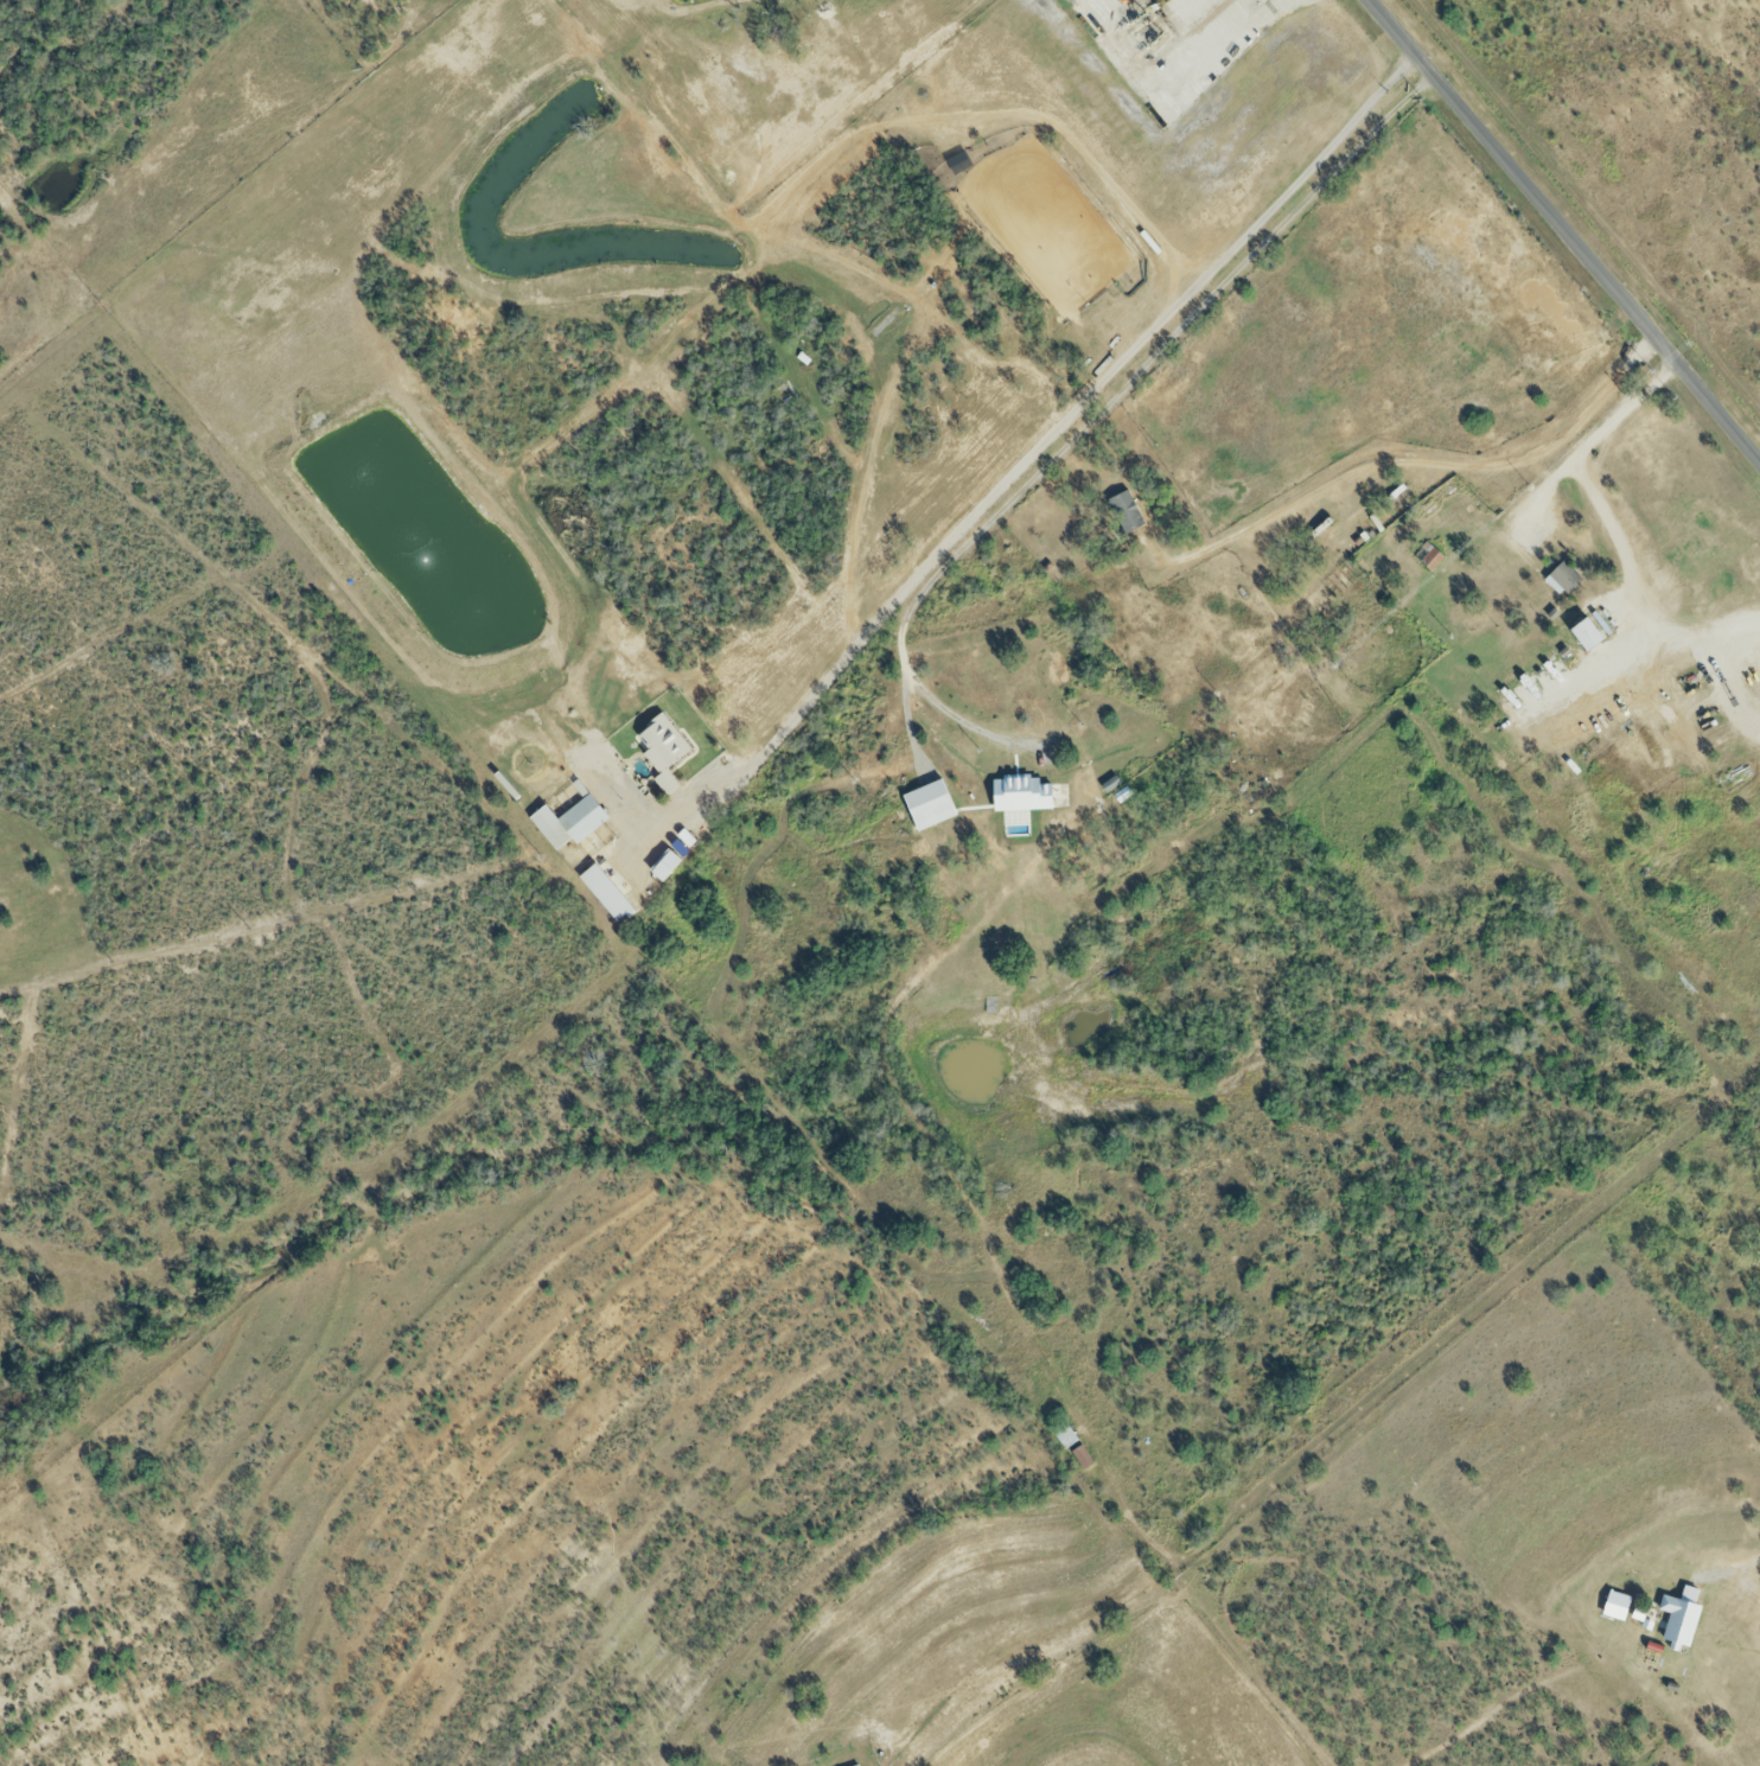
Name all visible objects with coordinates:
road: (1245, 27)
road: (1564, 225)
road: (1102, 412)
road: (1064, 429)
building: (1125, 514)
road: (1611, 528)
building: (1429, 560)
building: (1565, 580)
building: (662, 746)
building: (1021, 797)
building: (582, 821)
building: (607, 897)
building: (1064, 1437)
building: (1082, 1460)
road: (1735, 1568)
building: (1679, 1624)

